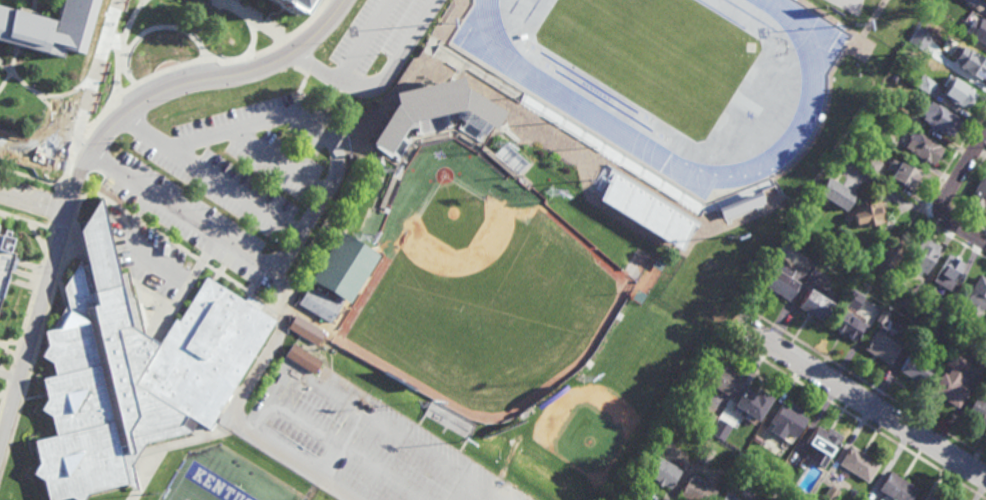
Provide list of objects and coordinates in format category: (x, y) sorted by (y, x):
building: (269, 0)
building: (969, 1)
track: (498, 2)
road: (37, 5)
building: (292, 5)
park: (849, 5)
track: (514, 6)
park: (513, 8)
track: (531, 11)
track: (722, 14)
track: (752, 15)
road: (257, 19)
park: (636, 24)
building: (45, 26)
park: (521, 29)
building: (979, 29)
parking lot: (375, 32)
road: (255, 36)
road: (368, 37)
park: (532, 46)
park: (693, 47)
park: (656, 54)
park: (765, 57)
park: (782, 57)
building: (940, 58)
park: (677, 62)
building: (971, 62)
road: (194, 63)
park: (547, 65)
road: (12, 69)
road: (383, 76)
road: (209, 77)
building: (893, 77)
track: (589, 82)
building: (925, 84)
road: (69, 92)
building: (958, 92)
road: (92, 94)
park: (737, 96)
road: (46, 99)
track: (604, 100)
track: (569, 102)
road: (301, 106)
track: (764, 113)
building: (428, 115)
park: (645, 117)
building: (939, 118)
park: (661, 136)
building: (887, 136)
building: (923, 148)
road: (282, 154)
building: (869, 164)
road: (961, 173)
building: (902, 174)
road: (31, 177)
road: (235, 190)
road: (73, 191)
road: (932, 192)
building: (834, 193)
building: (979, 194)
parking lot: (227, 195)
road: (895, 197)
road: (34, 199)
road: (959, 201)
building: (740, 203)
road: (57, 206)
building: (646, 211)
building: (866, 213)
road: (25, 221)
road: (63, 226)
road: (964, 230)
road: (38, 237)
road: (174, 244)
building: (889, 254)
building: (922, 255)
road: (263, 256)
building: (856, 256)
building: (867, 260)
building: (6, 263)
parking garage: (6, 263)
building: (947, 271)
building: (337, 277)
road: (176, 278)
building: (779, 284)
building: (916, 286)
park: (481, 290)
building: (977, 293)
building: (852, 299)
building: (903, 302)
building: (815, 303)
road: (40, 305)
road: (26, 318)
road: (166, 325)
building: (845, 325)
building: (305, 330)
road: (43, 331)
building: (982, 334)
building: (880, 347)
building: (208, 352)
building: (302, 358)
building: (956, 363)
building: (914, 369)
building: (722, 378)
building: (98, 384)
road: (868, 386)
building: (948, 390)
road: (2, 396)
road: (865, 402)
building: (754, 403)
building: (976, 411)
road: (363, 413)
building: (788, 419)
road: (858, 419)
building: (707, 420)
building: (721, 429)
road: (341, 443)
parking lot: (364, 444)
building: (822, 445)
road: (349, 449)
building: (706, 455)
building: (858, 464)
road: (308, 466)
building: (662, 472)
park: (208, 486)
building: (896, 488)
building: (696, 491)
building: (780, 494)
building: (830, 494)
building: (728, 497)
road: (634, 498)
building: (928, 498)

